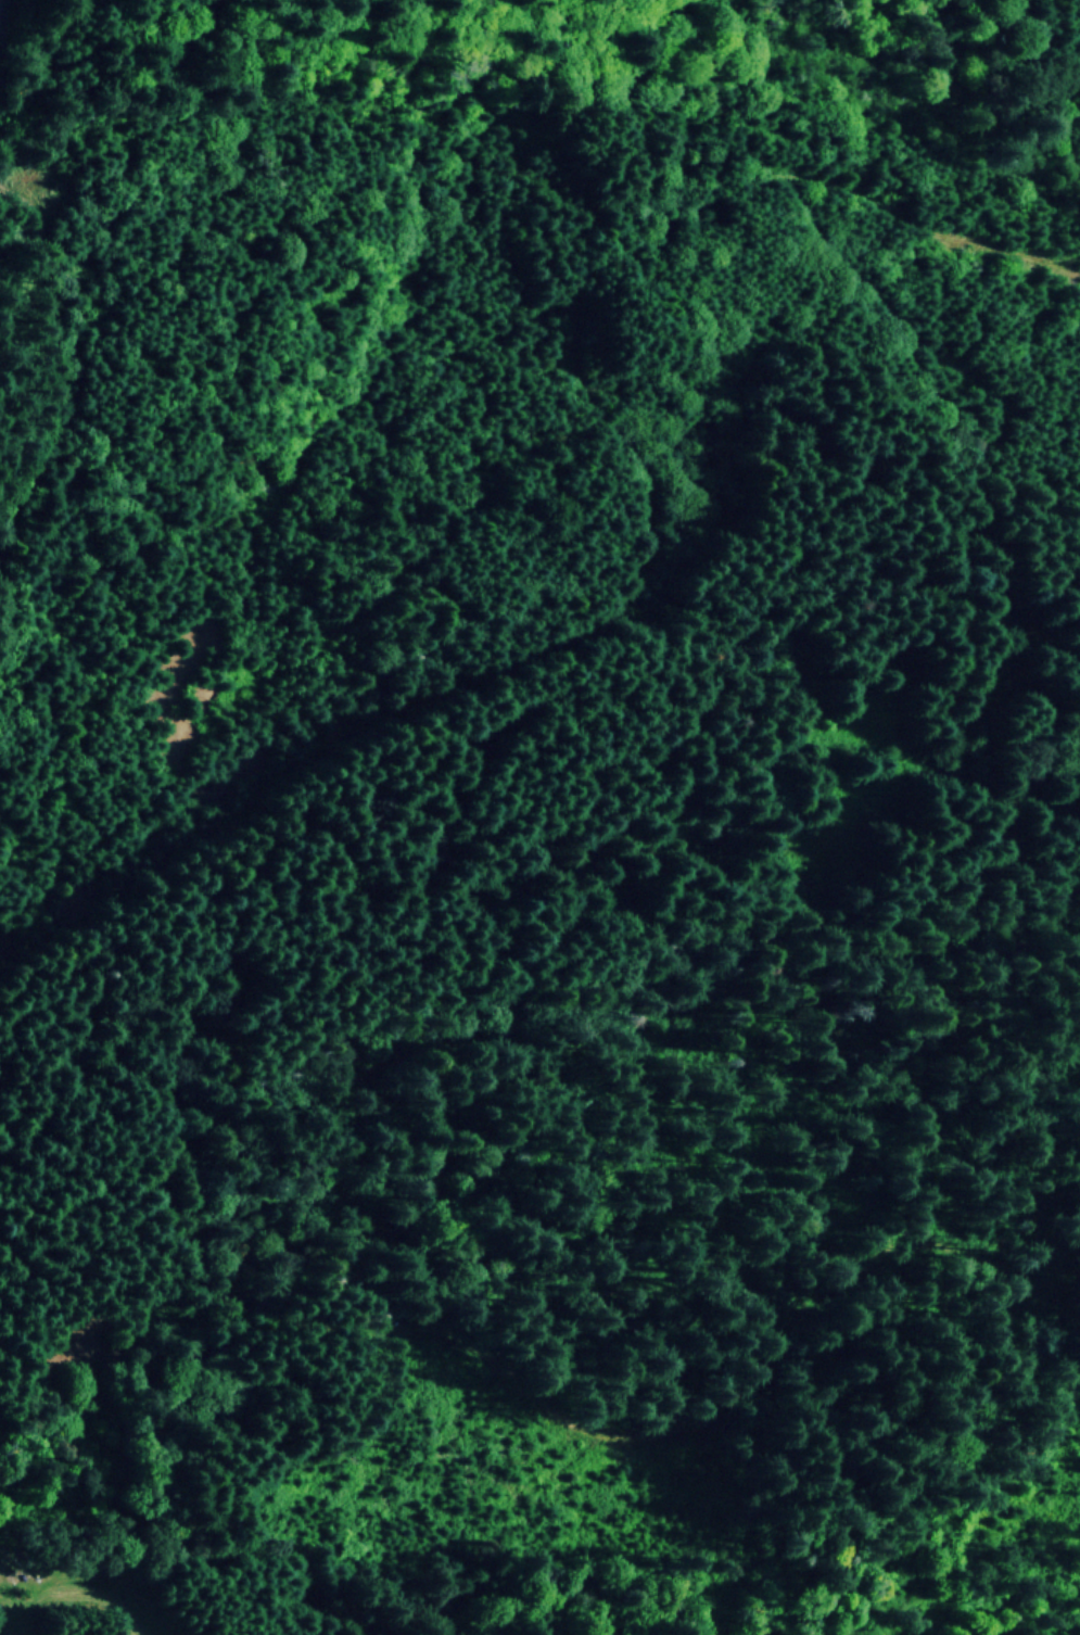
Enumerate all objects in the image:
road: (595, 619)

